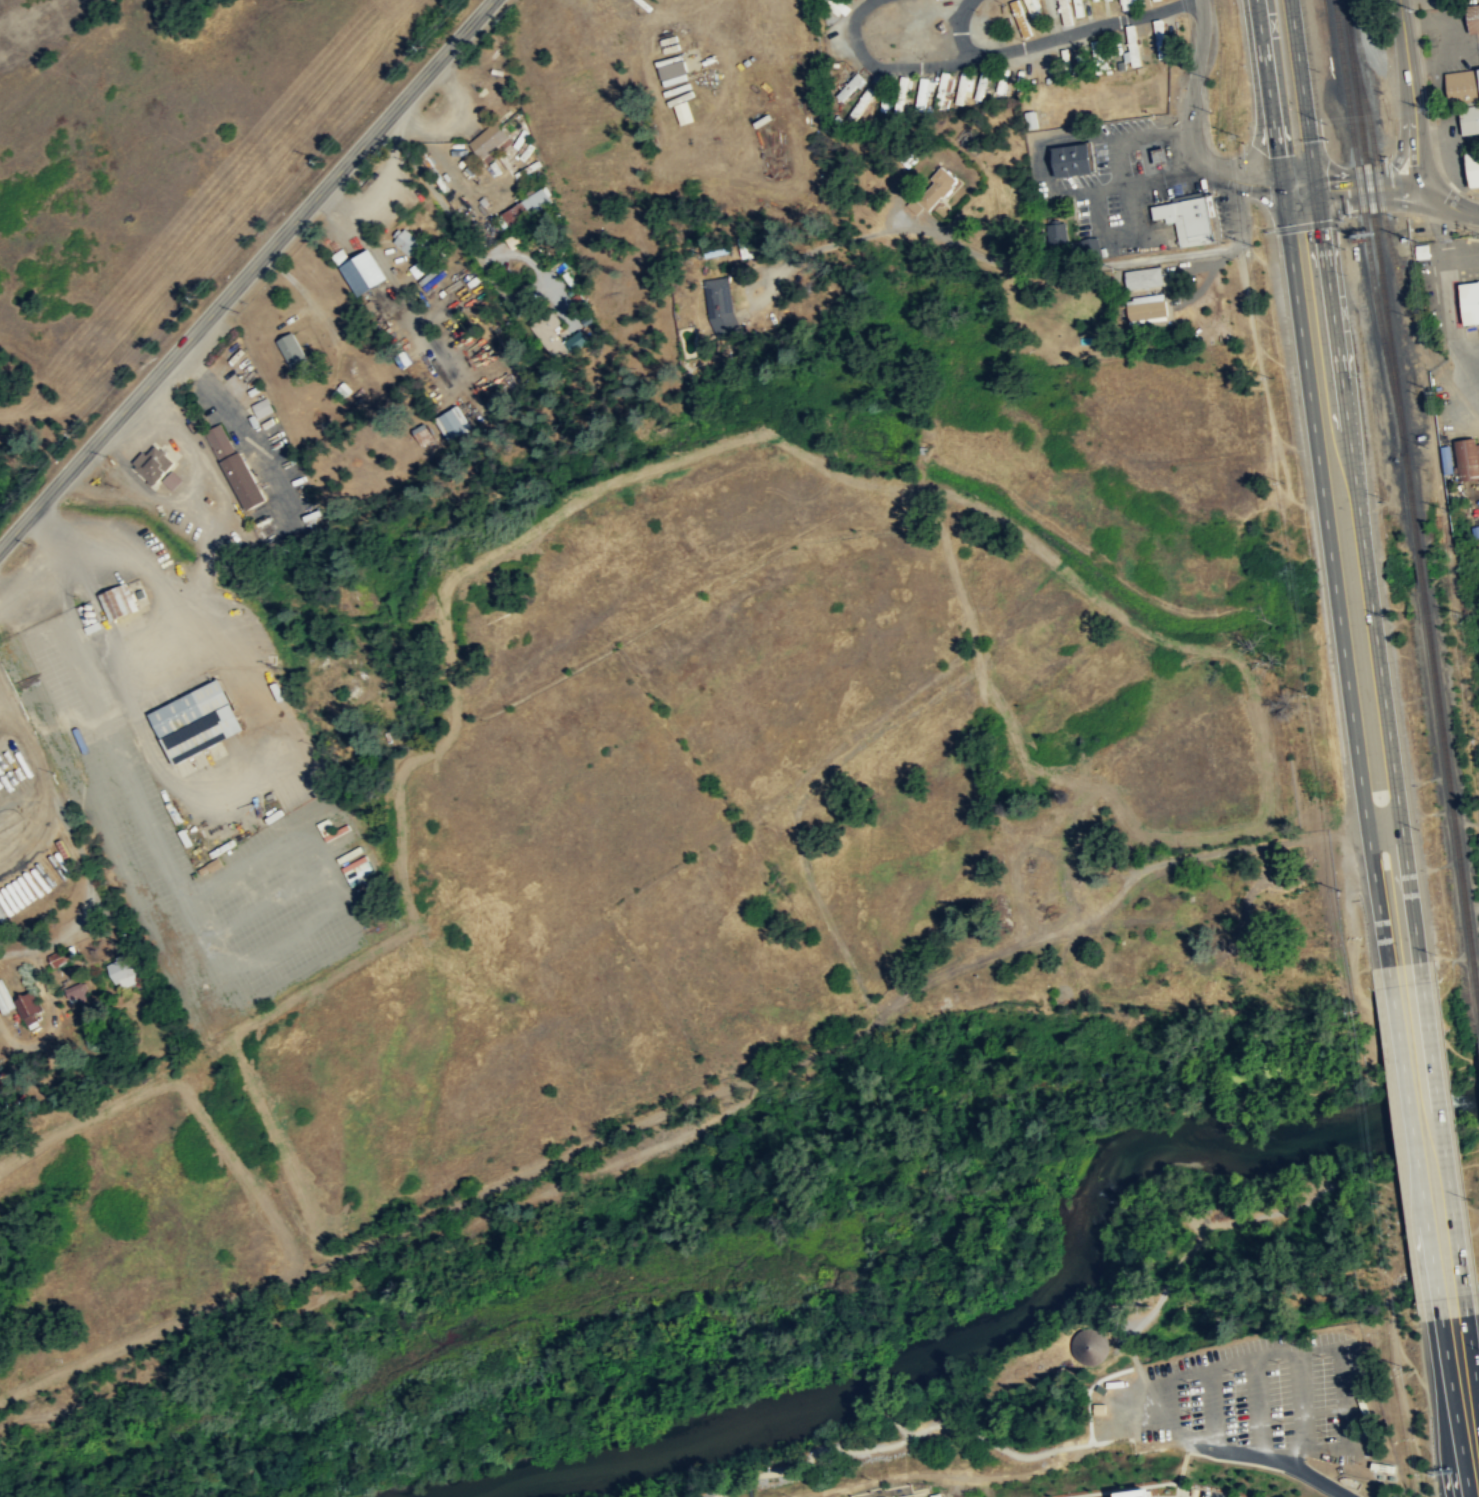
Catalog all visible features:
building: (1023, 0)
building: (1126, 4)
building: (1065, 12)
building: (1021, 18)
building: (1473, 19)
road: (1088, 28)
road: (961, 31)
building: (1160, 39)
building: (1133, 47)
road: (886, 68)
building: (673, 71)
building: (982, 83)
building: (851, 86)
building: (965, 87)
building: (943, 89)
building: (1462, 89)
building: (924, 91)
road: (1273, 92)
road: (1303, 94)
road: (1411, 96)
building: (498, 101)
building: (884, 107)
building: (684, 113)
building: (1469, 121)
road: (1188, 129)
road: (1403, 137)
building: (489, 140)
road: (1171, 154)
building: (1160, 155)
gas station: (1160, 155)
building: (1071, 161)
building: (1473, 170)
traffic signals: (1287, 179)
road: (1135, 182)
building: (941, 183)
road: (1302, 186)
road: (1081, 189)
road: (1368, 189)
road: (1449, 204)
road: (450, 207)
building: (527, 208)
building: (1188, 219)
railway: (1366, 226)
road: (1111, 240)
railway: (1390, 240)
building: (406, 241)
building: (513, 241)
building: (360, 270)
road: (246, 274)
building: (1144, 280)
building: (1470, 302)
building: (720, 304)
building: (1147, 310)
building: (553, 335)
building: (292, 350)
building: (262, 407)
building: (453, 422)
building: (424, 433)
building: (1469, 456)
building: (153, 464)
building: (235, 465)
building: (173, 480)
railway: (1411, 499)
road: (1367, 574)
road: (1336, 575)
building: (119, 601)
building: (197, 721)
building: (327, 829)
parking lot: (171, 844)
building: (57, 958)
building: (122, 973)
building: (77, 993)
road: (892, 1005)
building: (26, 1011)
road: (1443, 1137)
road: (1414, 1141)
road: (381, 1236)
river: (1005, 1313)
building: (1090, 1347)
road: (1473, 1359)
parking lot: (1249, 1398)
road: (1455, 1407)
road: (896, 1423)
road: (951, 1424)
road: (1270, 1457)
road: (1233, 1459)
road: (1178, 1484)
road: (1122, 1488)
building: (1134, 1493)

